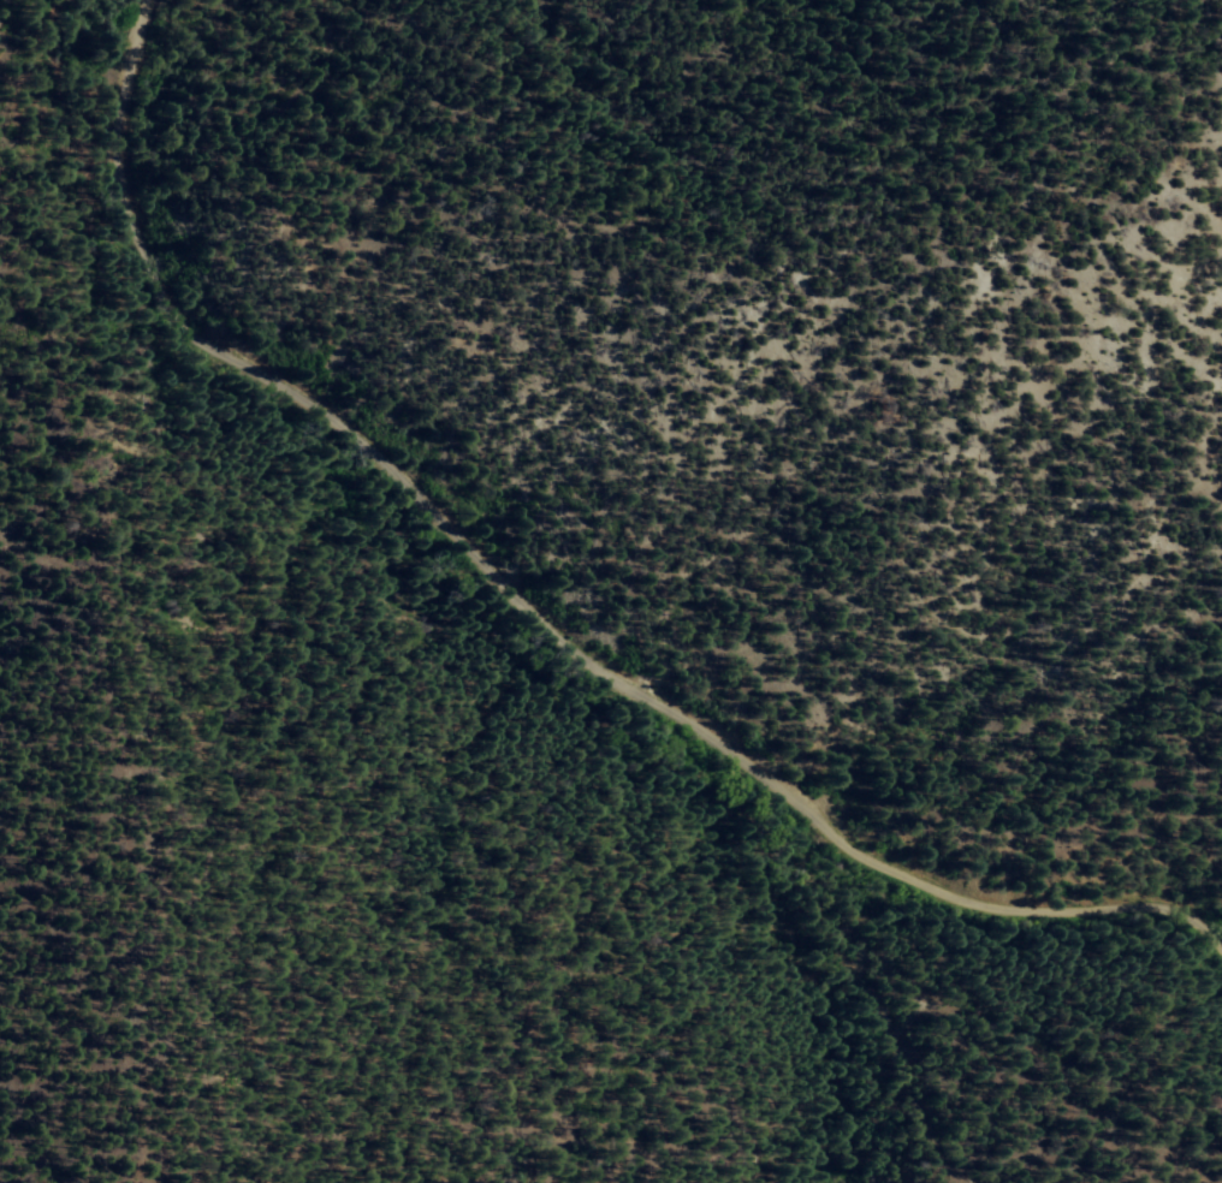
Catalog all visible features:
road: (509, 601)

